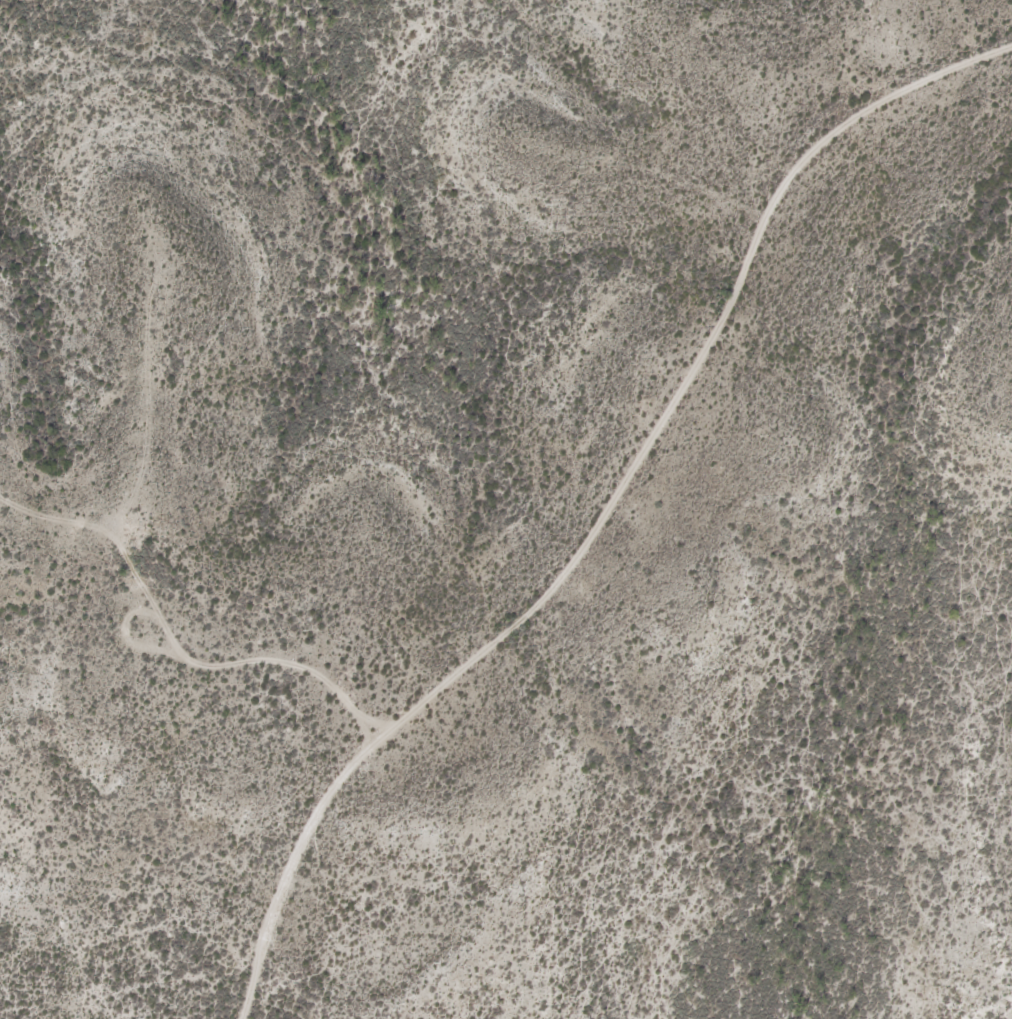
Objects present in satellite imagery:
road: (607, 509)

